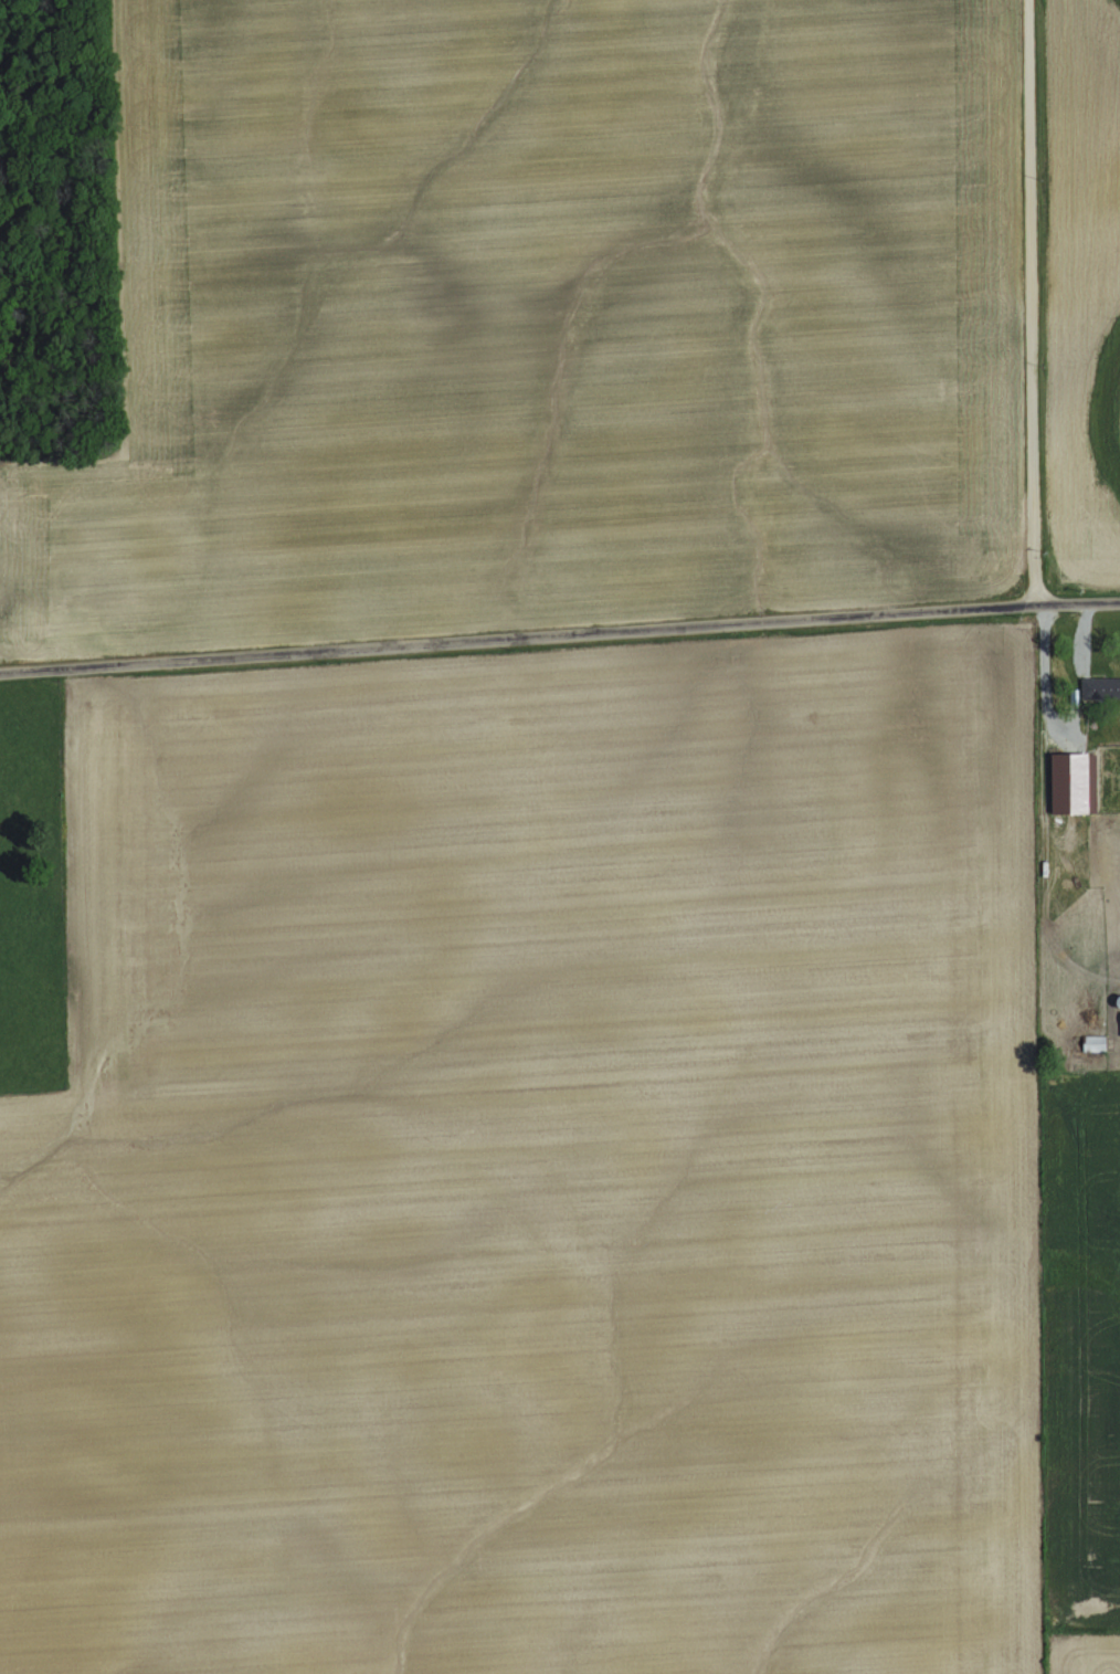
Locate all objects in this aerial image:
road: (1036, 302)
road: (559, 635)
building: (1074, 785)
building: (1093, 1043)

